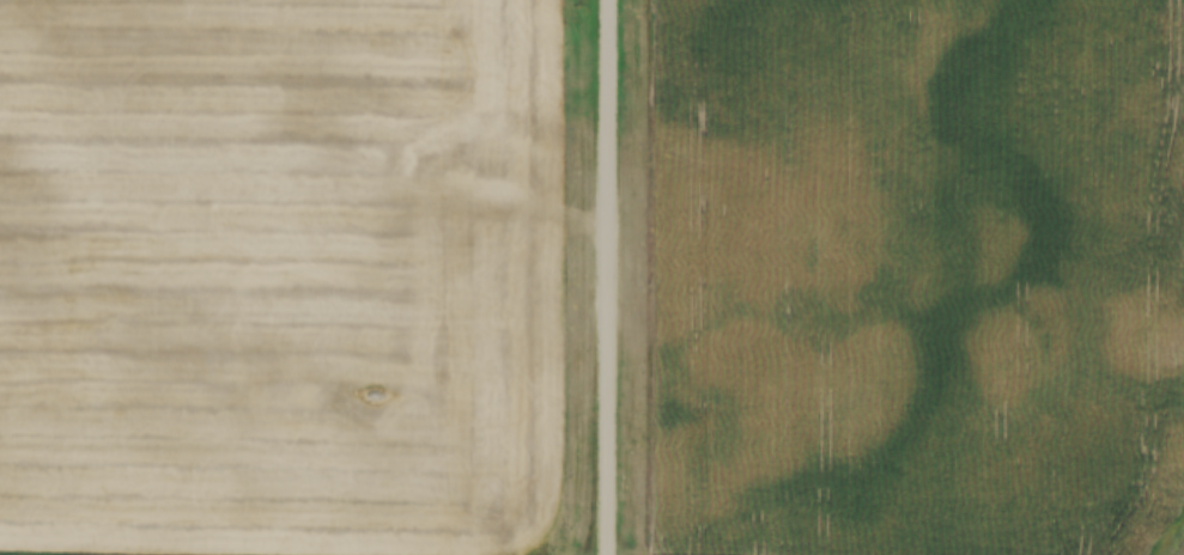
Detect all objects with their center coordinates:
road: (603, 276)

